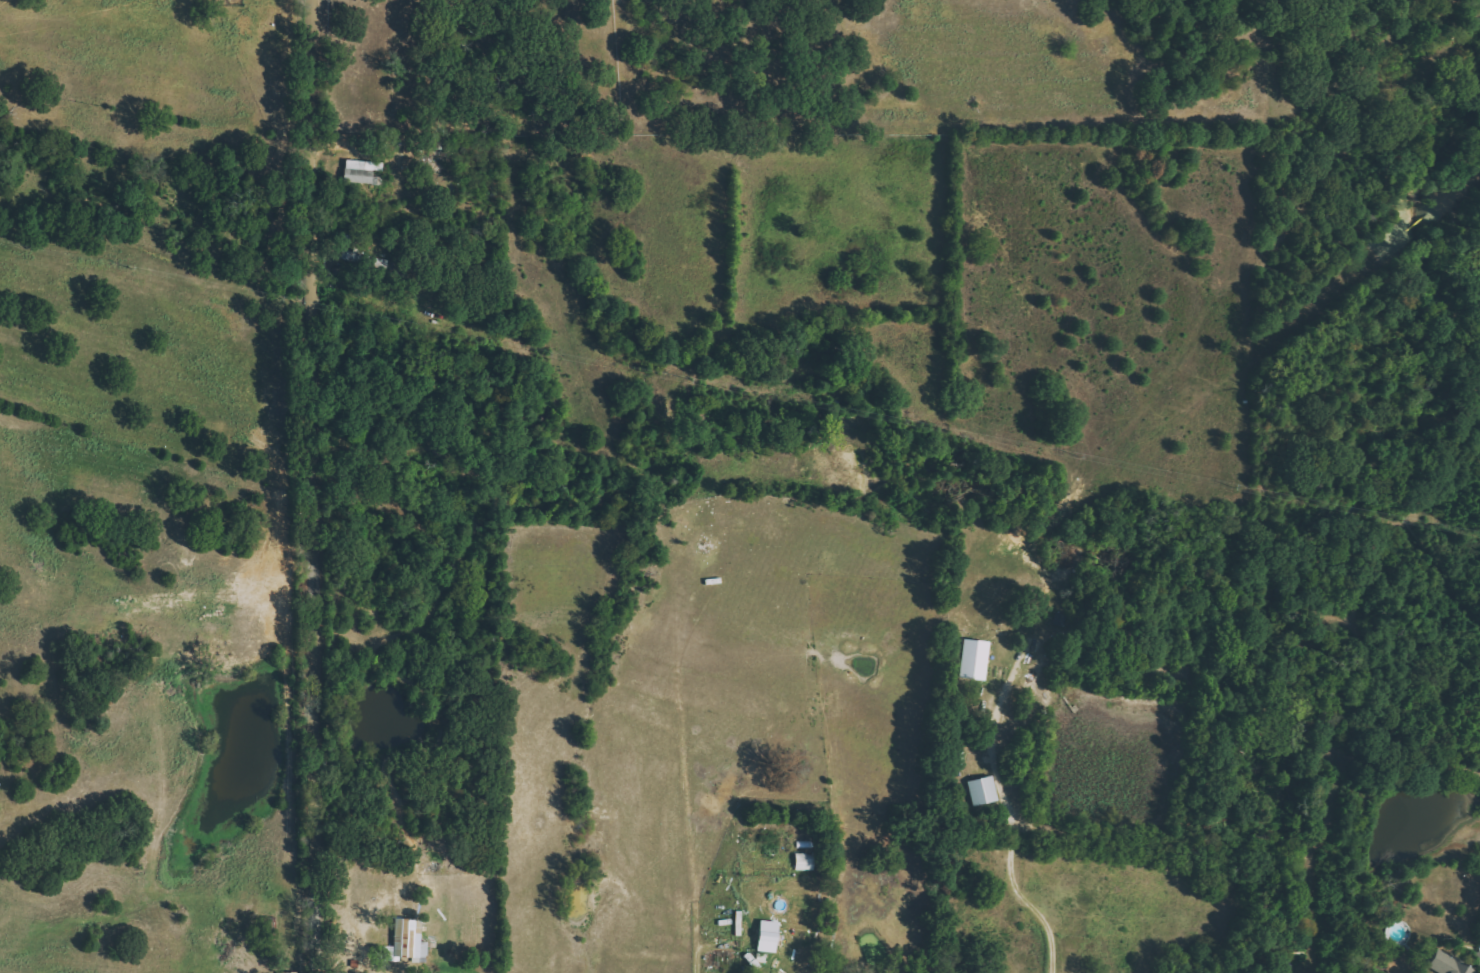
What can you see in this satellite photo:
building: (362, 172)
road: (313, 486)
building: (972, 659)
building: (982, 790)
building: (804, 862)
road: (1033, 904)
building: (738, 923)
building: (411, 936)
building: (766, 936)
road: (694, 940)
building: (1478, 958)
building: (1446, 964)
building: (288, 972)

